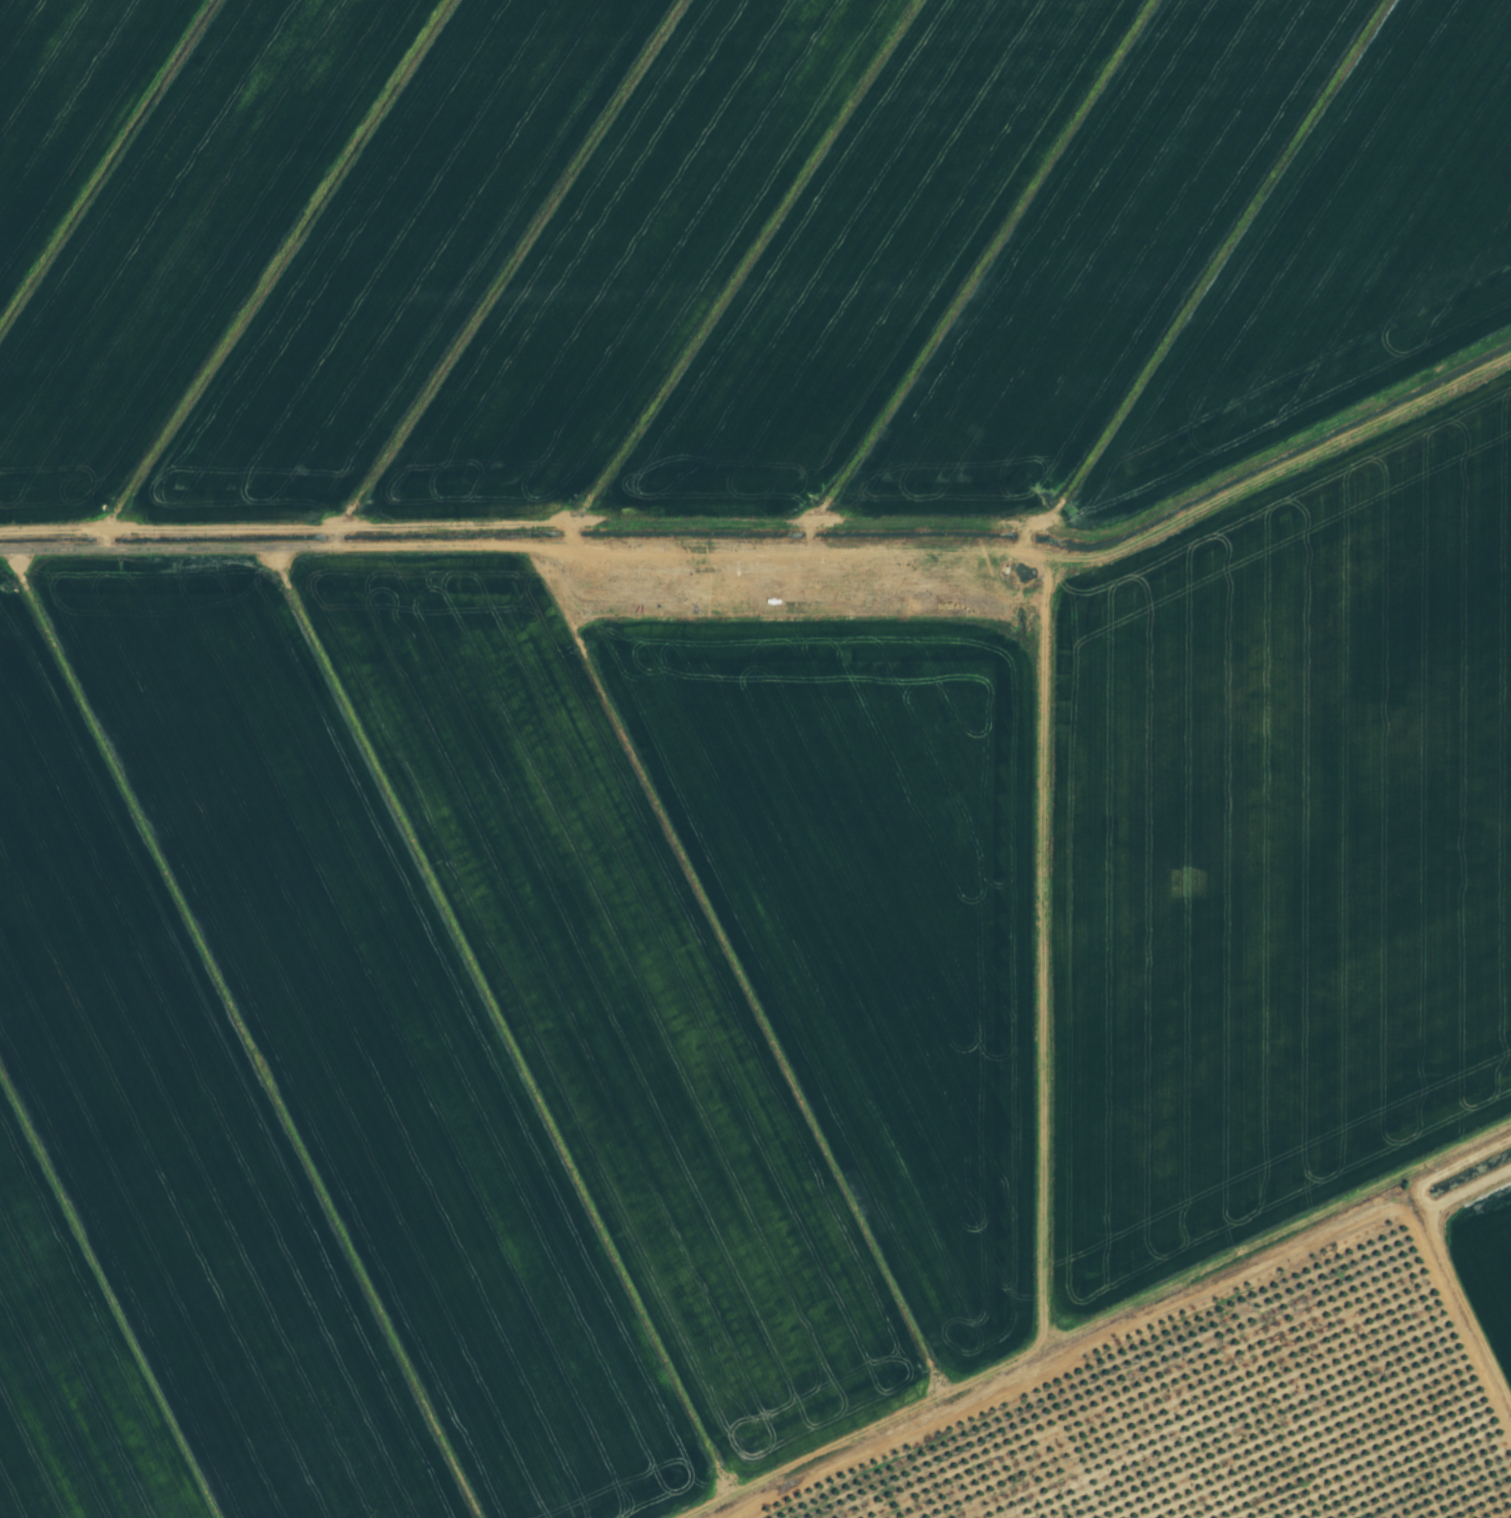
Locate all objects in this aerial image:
road: (1417, 1150)
road: (1154, 1278)

